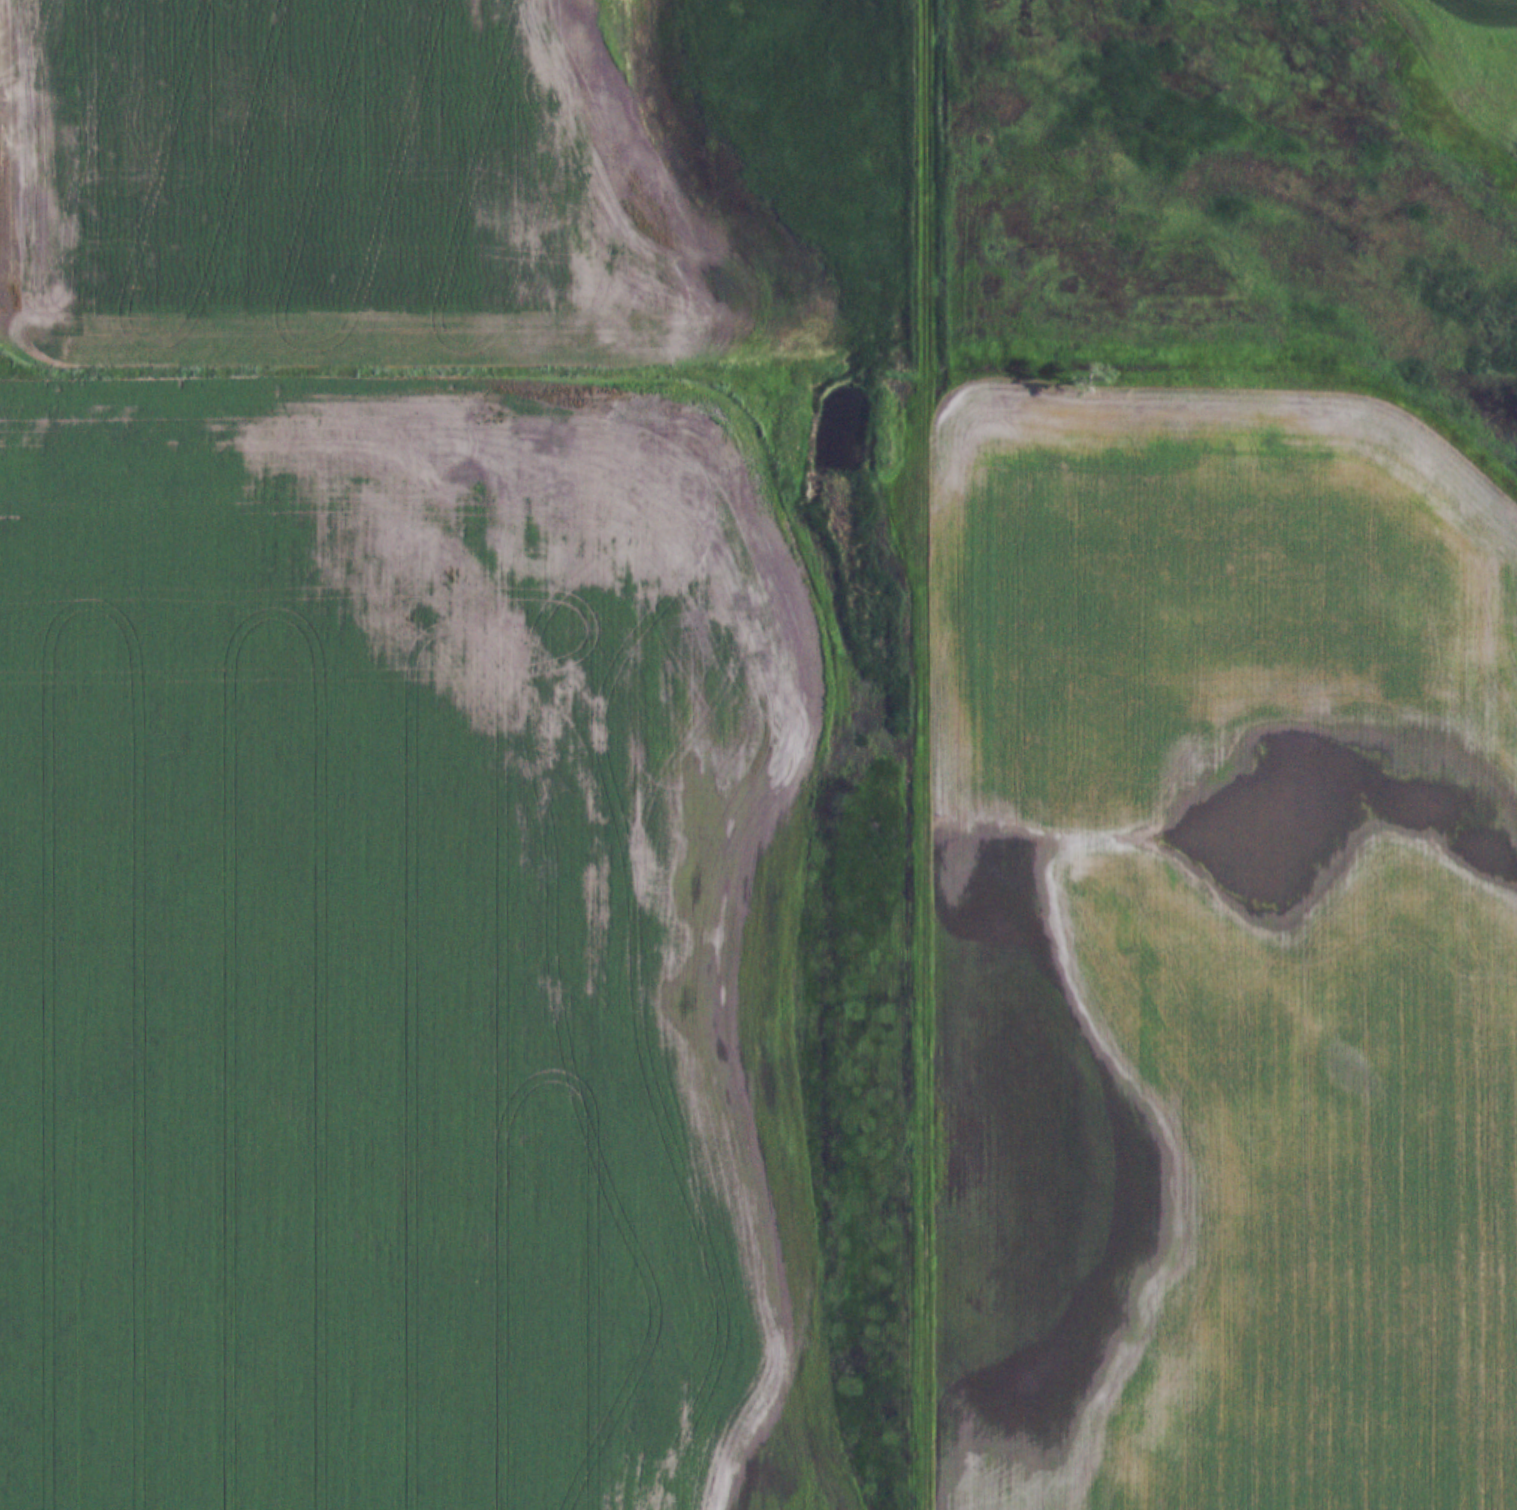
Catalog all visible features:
road: (460, 386)
road: (924, 754)

